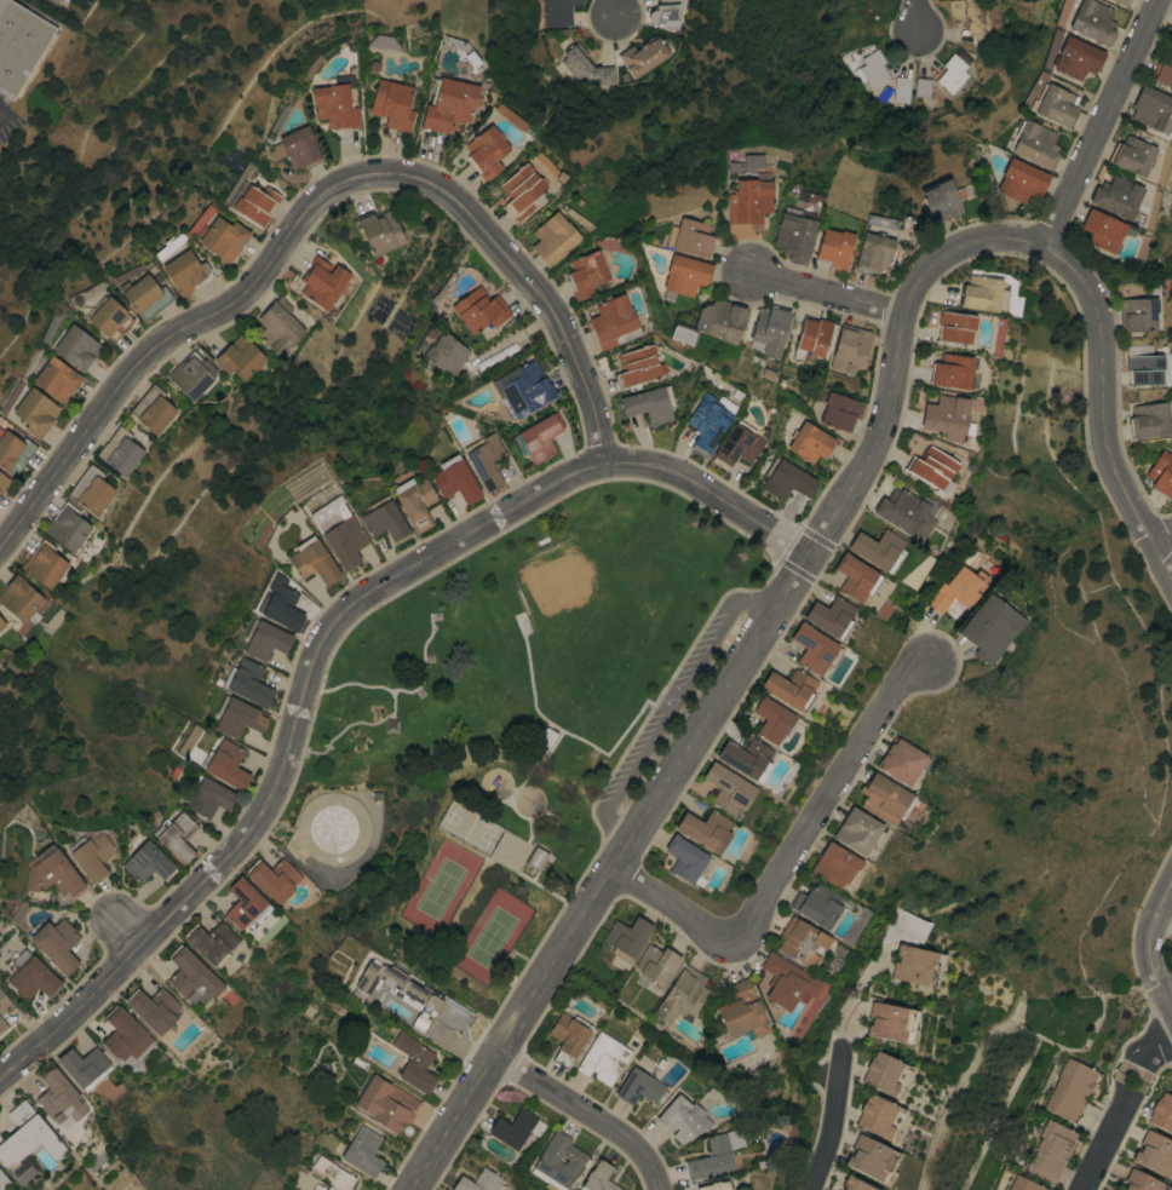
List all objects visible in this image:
building: (1116, 1)
building: (1122, 1)
building: (671, 4)
road: (615, 8)
building: (557, 12)
road: (917, 17)
building: (861, 19)
building: (972, 19)
building: (1092, 21)
building: (19, 44)
building: (643, 56)
building: (1076, 57)
building: (574, 59)
building: (872, 69)
building: (1165, 71)
building: (607, 74)
building: (953, 74)
building: (923, 87)
building: (901, 88)
building: (392, 104)
building: (1055, 104)
building: (334, 105)
building: (449, 105)
building: (1153, 109)
road: (1095, 126)
building: (1035, 144)
building: (299, 148)
building: (484, 151)
building: (1132, 155)
building: (748, 163)
building: (1021, 180)
building: (521, 190)
building: (1118, 197)
road: (310, 199)
building: (747, 200)
building: (941, 200)
building: (254, 203)
building: (1102, 230)
building: (380, 231)
building: (793, 234)
building: (552, 237)
building: (689, 237)
road: (1009, 237)
building: (223, 238)
building: (833, 247)
building: (872, 253)
building: (184, 271)
building: (586, 274)
building: (684, 275)
building: (323, 282)
building: (979, 293)
road: (821, 294)
building: (145, 297)
building: (478, 309)
building: (1137, 314)
building: (110, 320)
building: (613, 322)
building: (713, 322)
building: (280, 324)
building: (954, 327)
building: (769, 330)
building: (811, 338)
building: (849, 346)
building: (75, 347)
building: (443, 353)
building: (240, 358)
building: (637, 366)
building: (1143, 366)
building: (950, 370)
building: (191, 375)
building: (56, 379)
building: (527, 390)
building: (649, 404)
building: (153, 409)
building: (34, 412)
building: (839, 412)
building: (944, 416)
building: (1148, 420)
building: (706, 422)
building: (540, 436)
building: (809, 442)
building: (736, 444)
building: (13, 452)
building: (120, 452)
building: (486, 461)
building: (931, 470)
building: (1161, 475)
building: (454, 479)
building: (785, 479)
building: (2, 482)
building: (91, 489)
building: (414, 501)
building: (903, 513)
building: (384, 519)
building: (67, 527)
building: (338, 531)
road: (1164, 541)
building: (877, 548)
building: (312, 562)
building: (44, 564)
building: (854, 577)
building: (955, 588)
building: (19, 598)
building: (280, 603)
park: (601, 609)
building: (829, 616)
building: (53, 620)
building: (1, 623)
building: (988, 627)
road: (323, 637)
building: (264, 639)
building: (814, 649)
building: (247, 682)
building: (789, 688)
road: (670, 708)
parking lot: (670, 709)
building: (237, 717)
building: (771, 718)
park: (509, 729)
road: (339, 735)
building: (540, 737)
building: (746, 758)
building: (900, 760)
building: (225, 764)
building: (728, 788)
building: (207, 797)
building: (885, 798)
building: (332, 828)
storage tank: (332, 828)
park: (469, 829)
building: (705, 829)
building: (856, 830)
building: (177, 837)
building: (91, 855)
building: (535, 857)
road: (788, 858)
building: (145, 861)
building: (686, 861)
building: (833, 864)
building: (52, 873)
road: (611, 874)
building: (274, 879)
park: (437, 890)
building: (245, 904)
building: (816, 904)
building: (626, 937)
park: (490, 938)
building: (211, 941)
building: (800, 942)
building: (56, 944)
road: (1144, 947)
building: (655, 965)
building: (913, 965)
building: (31, 976)
building: (191, 977)
building: (786, 982)
building: (401, 990)
building: (680, 995)
building: (4, 1004)
building: (153, 1008)
building: (741, 1011)
building: (453, 1017)
building: (887, 1021)
building: (2, 1027)
building: (123, 1034)
building: (568, 1036)
building: (603, 1058)
building: (413, 1063)
building: (84, 1067)
building: (884, 1073)
building: (638, 1087)
building: (1072, 1090)
building: (57, 1097)
building: (385, 1104)
road: (1121, 1104)
road: (587, 1113)
building: (1161, 1113)
building: (878, 1116)
building: (682, 1119)
road: (832, 1121)
building: (516, 1128)
building: (0, 1138)
building: (25, 1143)
building: (362, 1151)
building: (1050, 1151)
building: (1154, 1154)
building: (714, 1155)
building: (868, 1157)
building: (557, 1161)
building: (333, 1174)
building: (598, 1178)
building: (2, 1182)
building: (477, 1182)
building: (1142, 1182)
building: (852, 1184)
building: (1023, 1184)
building: (714, 1185)
building: (318, 1188)
building: (1120, 1189)

